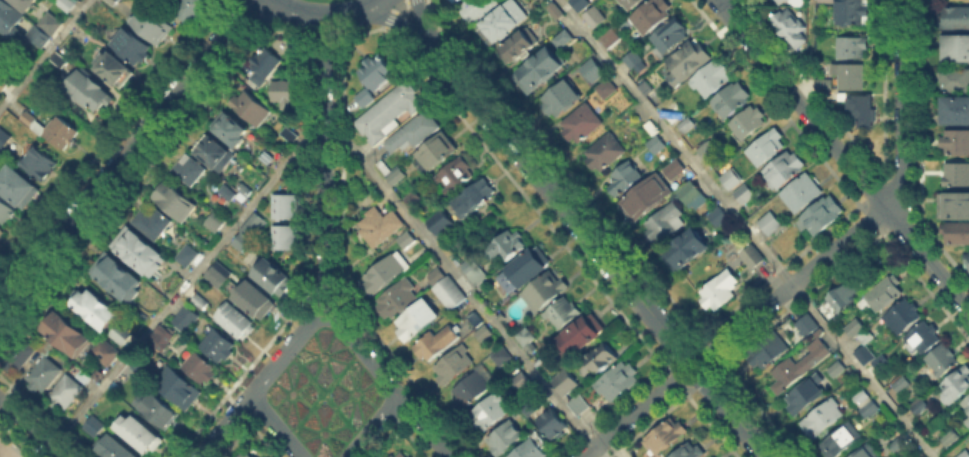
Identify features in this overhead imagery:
building: (115, 0)
park: (322, 0)
building: (449, 0)
building: (453, 0)
building: (827, 1)
road: (719, 2)
road: (722, 2)
building: (64, 3)
building: (26, 4)
building: (580, 4)
building: (632, 4)
building: (796, 4)
road: (363, 6)
road: (248, 8)
building: (474, 8)
building: (555, 9)
building: (195, 10)
road: (394, 11)
building: (851, 11)
road: (310, 13)
road: (418, 15)
building: (594, 16)
building: (650, 16)
road: (387, 17)
building: (956, 17)
building: (10, 19)
building: (505, 21)
building: (48, 22)
building: (153, 26)
building: (791, 30)
road: (282, 32)
road: (360, 33)
building: (37, 34)
building: (672, 36)
road: (322, 37)
building: (561, 37)
building: (610, 38)
building: (133, 47)
building: (520, 47)
building: (956, 47)
building: (852, 48)
road: (811, 51)
road: (43, 53)
building: (632, 59)
building: (61, 60)
building: (689, 61)
building: (265, 66)
building: (590, 68)
building: (112, 69)
building: (540, 70)
building: (377, 71)
building: (851, 76)
building: (712, 80)
building: (956, 80)
building: (4, 82)
building: (825, 82)
building: (647, 89)
building: (607, 90)
building: (89, 92)
building: (285, 94)
building: (366, 99)
building: (561, 100)
building: (732, 101)
road: (900, 107)
building: (251, 109)
building: (862, 111)
building: (957, 112)
building: (392, 113)
building: (30, 119)
building: (751, 123)
building: (583, 125)
building: (651, 126)
building: (687, 126)
building: (231, 129)
building: (64, 135)
building: (290, 135)
building: (413, 135)
building: (4, 138)
building: (956, 143)
building: (656, 144)
building: (763, 147)
road: (124, 152)
building: (219, 152)
building: (438, 152)
building: (709, 152)
building: (606, 154)
road: (844, 158)
road: (323, 161)
building: (41, 164)
building: (781, 168)
building: (189, 170)
building: (674, 170)
building: (455, 175)
building: (957, 176)
building: (397, 177)
building: (728, 177)
building: (624, 180)
building: (19, 186)
building: (246, 190)
building: (799, 191)
building: (742, 192)
road: (552, 193)
building: (229, 194)
building: (472, 195)
building: (694, 195)
building: (647, 196)
building: (411, 198)
building: (174, 202)
building: (952, 204)
building: (284, 205)
building: (7, 209)
building: (820, 212)
building: (720, 218)
building: (438, 220)
building: (216, 221)
building: (767, 221)
building: (668, 222)
building: (153, 223)
building: (251, 224)
building: (380, 226)
road: (746, 228)
building: (2, 233)
building: (957, 234)
building: (284, 236)
building: (407, 241)
building: (242, 242)
building: (505, 250)
building: (686, 252)
building: (140, 254)
building: (190, 256)
building: (754, 257)
building: (968, 261)
building: (528, 266)
building: (475, 272)
building: (218, 273)
building: (385, 274)
building: (116, 279)
building: (276, 279)
road: (793, 283)
road: (183, 285)
building: (448, 289)
road: (466, 290)
building: (546, 291)
building: (720, 292)
building: (885, 292)
building: (842, 298)
building: (399, 299)
building: (200, 300)
building: (257, 302)
building: (94, 308)
building: (564, 314)
building: (903, 318)
building: (187, 319)
building: (418, 320)
building: (476, 320)
building: (236, 322)
building: (807, 325)
building: (857, 329)
building: (123, 332)
building: (165, 334)
building: (485, 334)
building: (70, 335)
building: (582, 336)
building: (923, 338)
building: (530, 340)
building: (218, 342)
building: (438, 343)
road: (284, 350)
road: (361, 350)
building: (769, 350)
building: (107, 352)
building: (17, 356)
road: (699, 356)
building: (503, 357)
building: (603, 357)
building: (866, 357)
building: (943, 359)
building: (455, 366)
building: (140, 367)
building: (799, 367)
building: (201, 368)
building: (838, 370)
road: (682, 371)
building: (44, 374)
building: (86, 378)
building: (618, 379)
building: (522, 382)
building: (567, 382)
building: (958, 384)
building: (900, 385)
building: (179, 388)
building: (475, 388)
building: (66, 395)
building: (807, 396)
building: (861, 398)
building: (535, 403)
building: (581, 403)
building: (966, 404)
building: (920, 407)
building: (867, 408)
building: (161, 409)
building: (491, 411)
road: (632, 414)
road: (732, 415)
building: (825, 419)
building: (966, 420)
building: (555, 425)
road: (223, 426)
road: (273, 426)
road: (371, 426)
road: (423, 426)
building: (96, 428)
road: (33, 429)
building: (141, 432)
building: (662, 434)
building: (508, 438)
building: (949, 438)
building: (842, 442)
building: (899, 445)
building: (118, 449)
building: (693, 449)
building: (530, 450)
building: (865, 453)
building: (399, 454)
building: (965, 454)
building: (248, 455)

